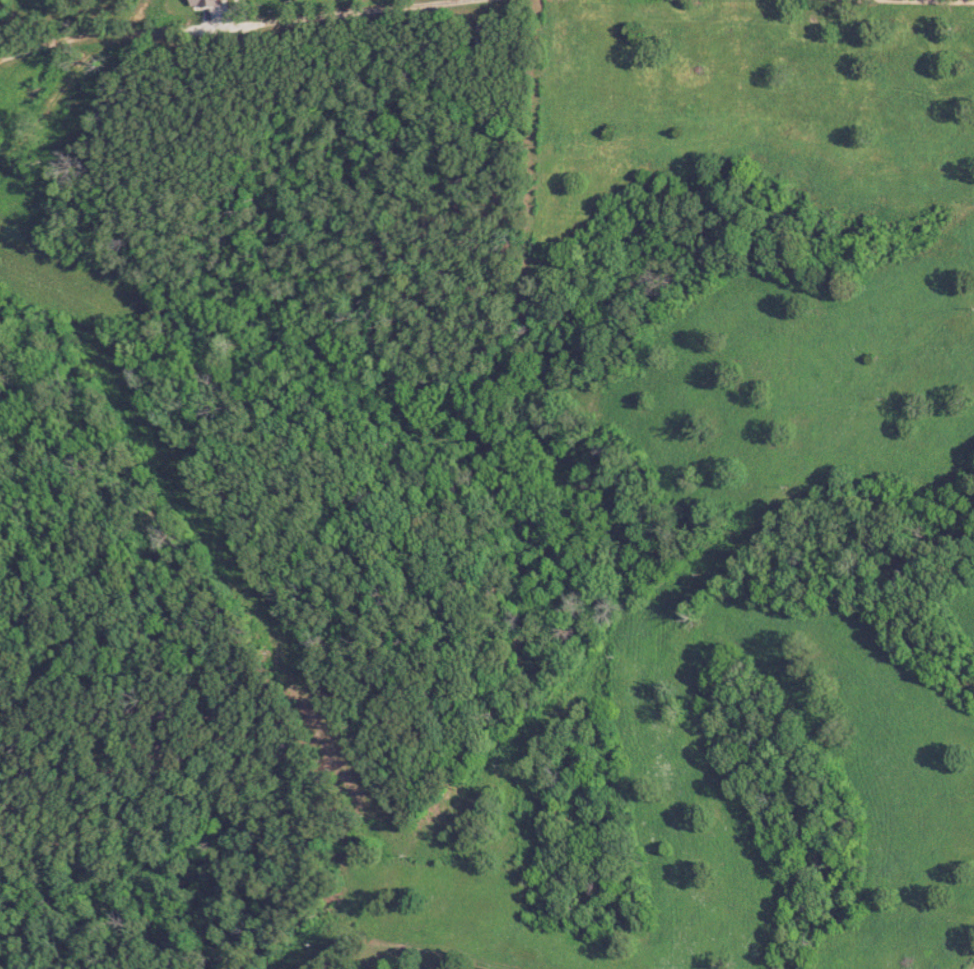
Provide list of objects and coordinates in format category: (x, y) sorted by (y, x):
building: (208, 3)
road: (220, 22)

